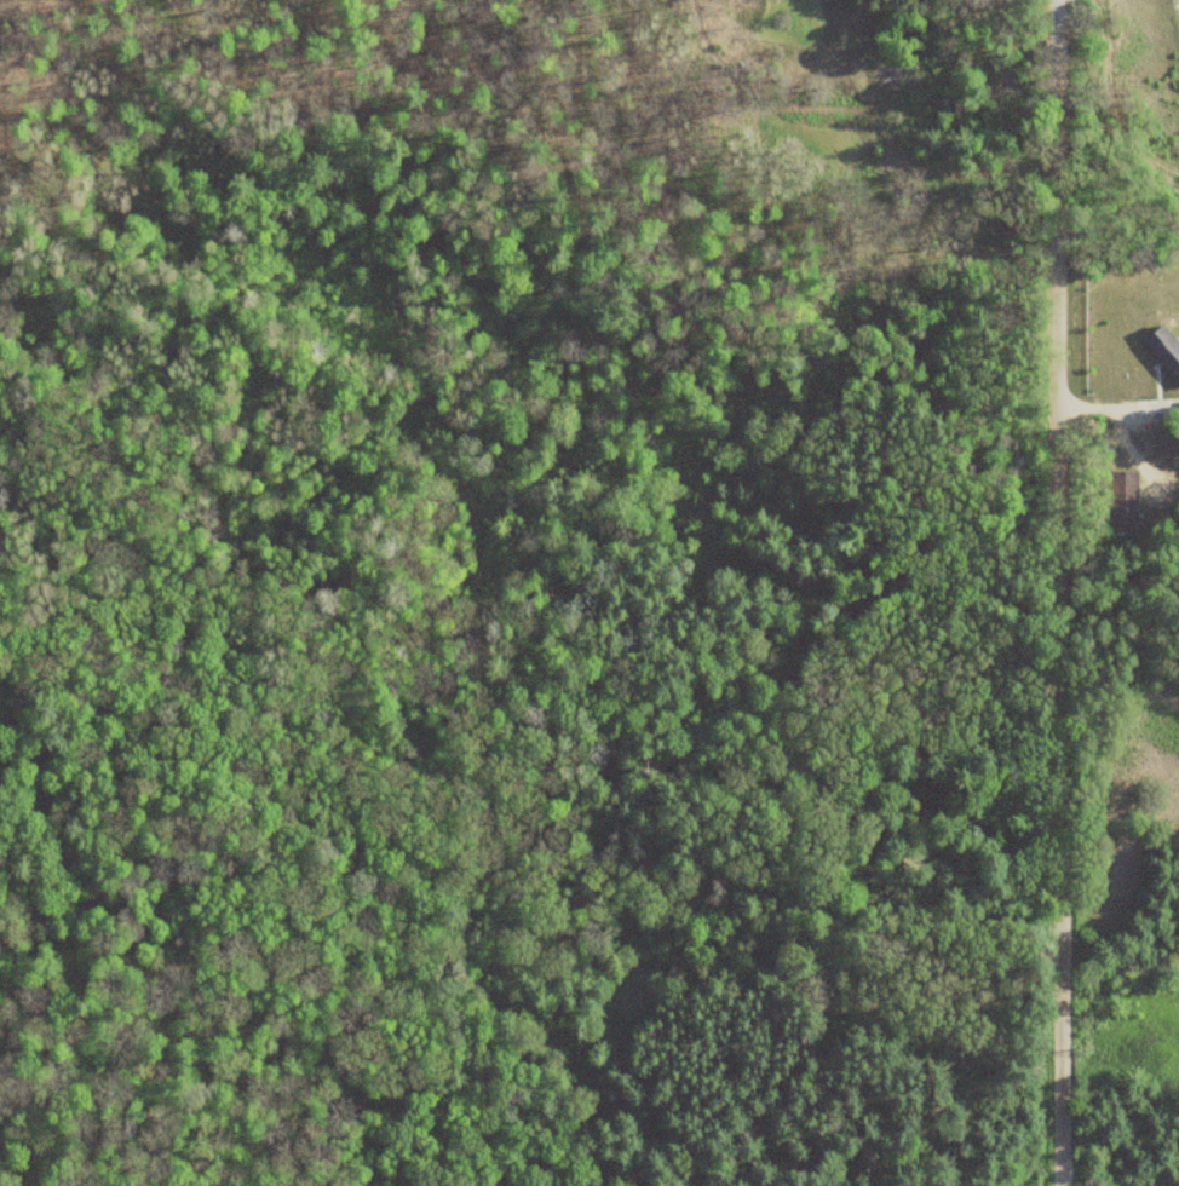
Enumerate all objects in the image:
building: (1162, 353)
building: (1120, 501)
road: (1052, 593)

